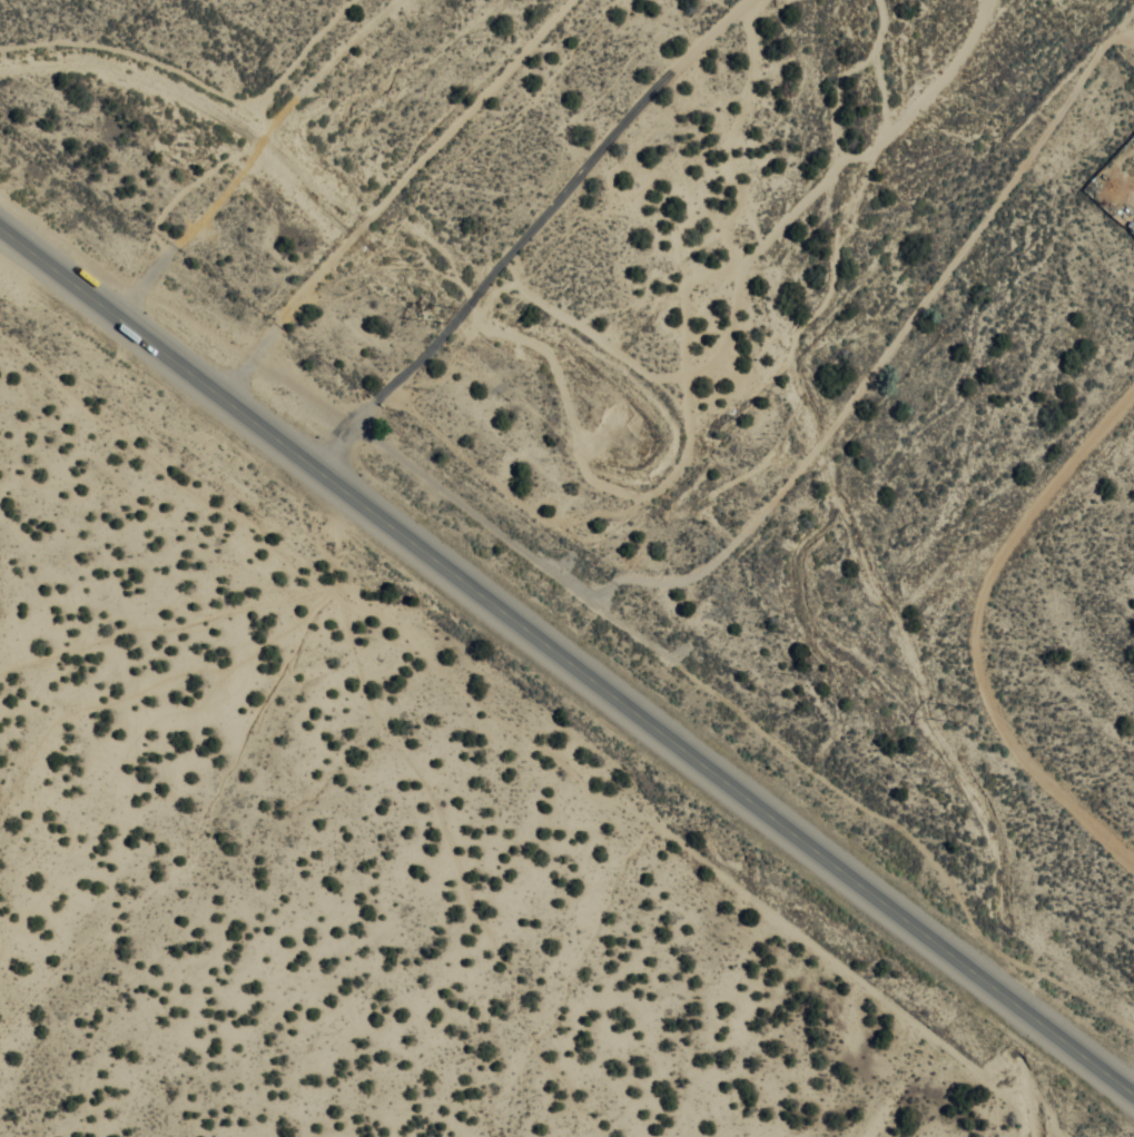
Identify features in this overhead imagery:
road: (379, 51)
road: (495, 166)
road: (686, 201)
power tower: (444, 316)
road: (742, 323)
road: (860, 635)
road: (568, 660)
power tower: (957, 712)

